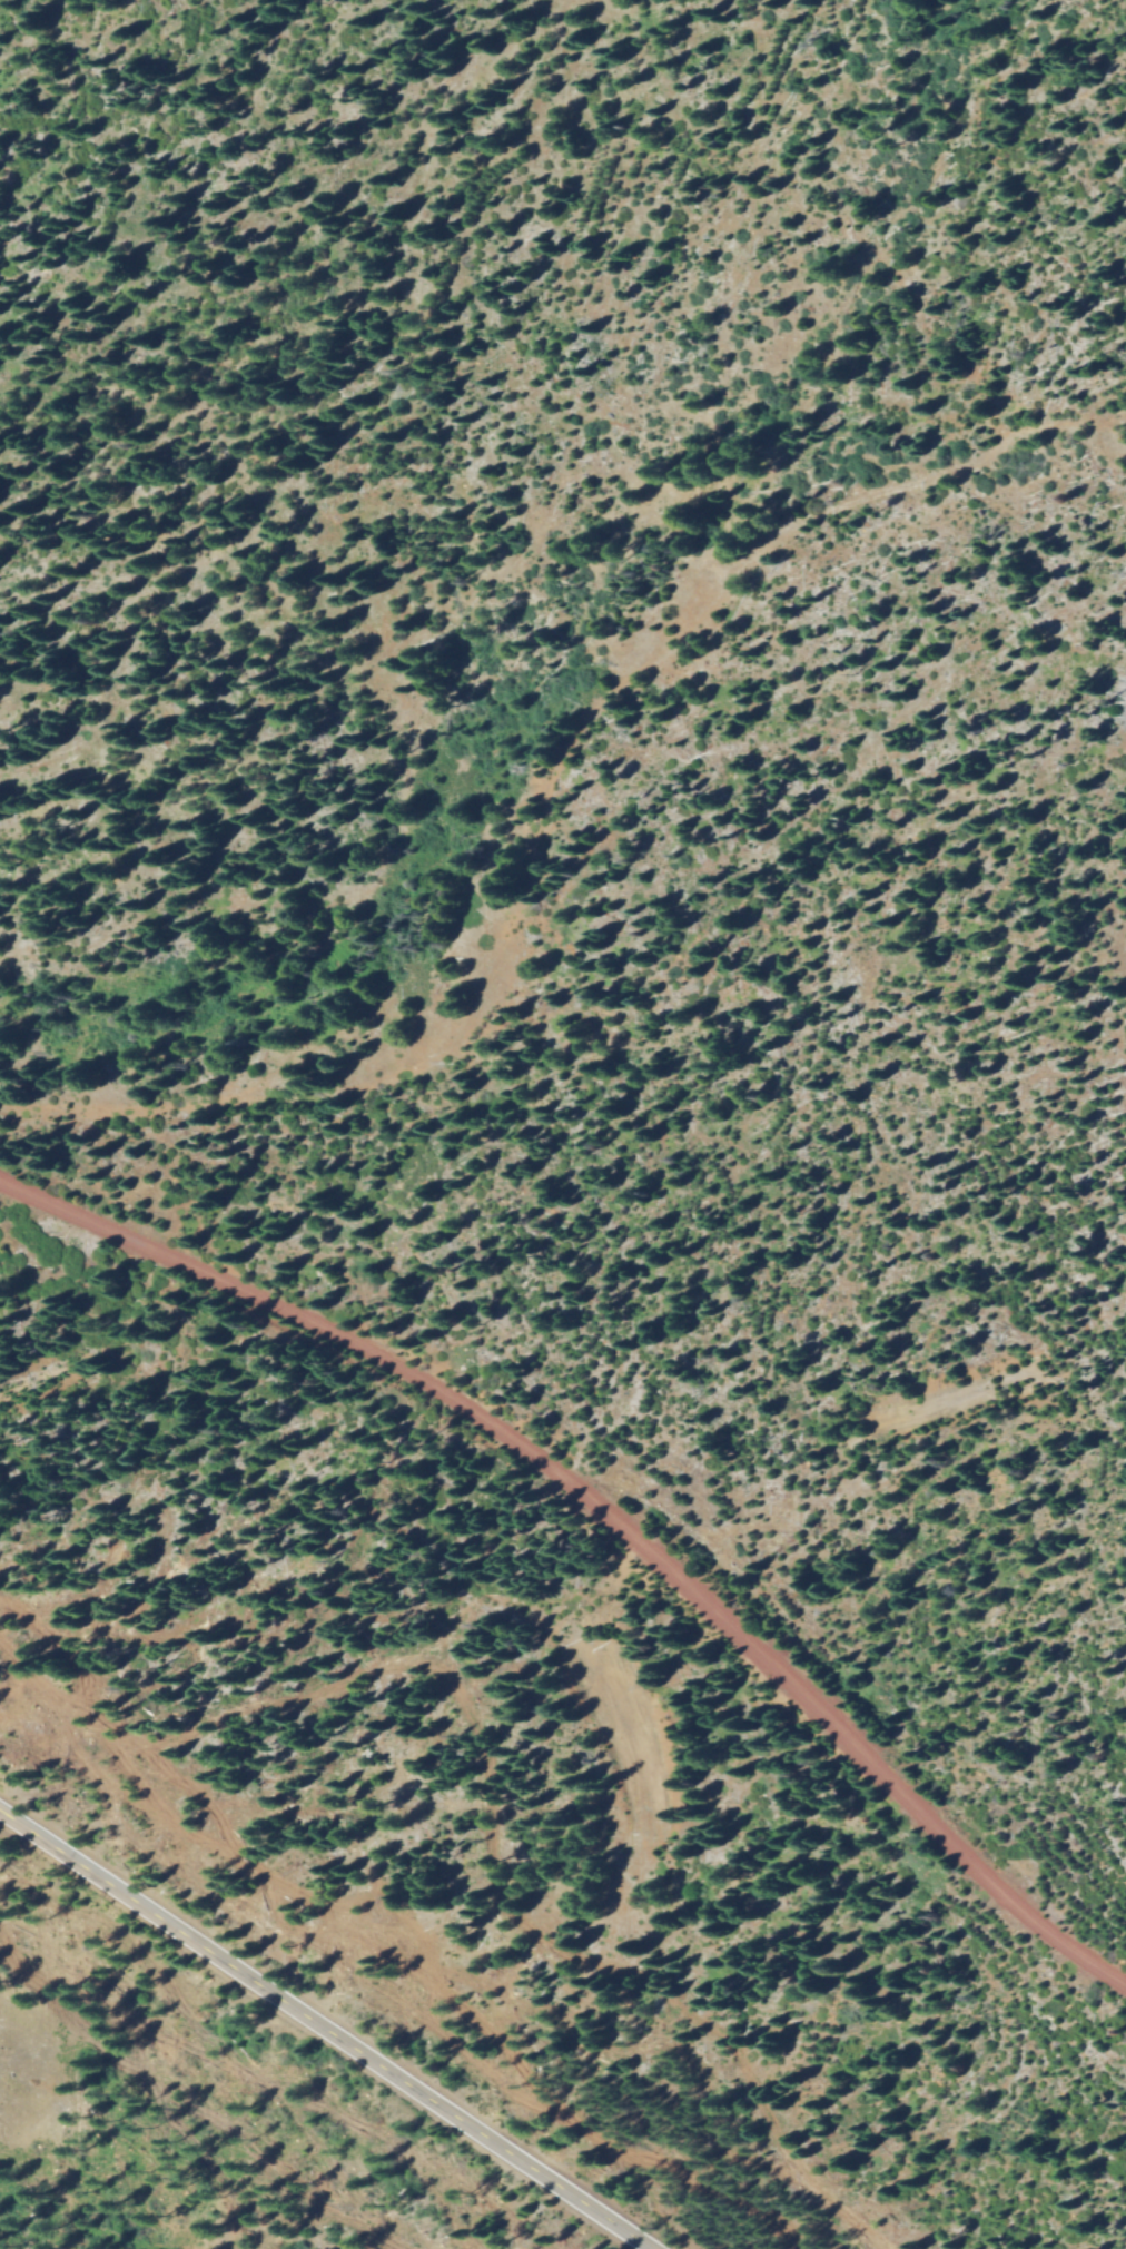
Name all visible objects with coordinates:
road: (606, 1515)
road: (364, 1942)
road: (328, 2028)

